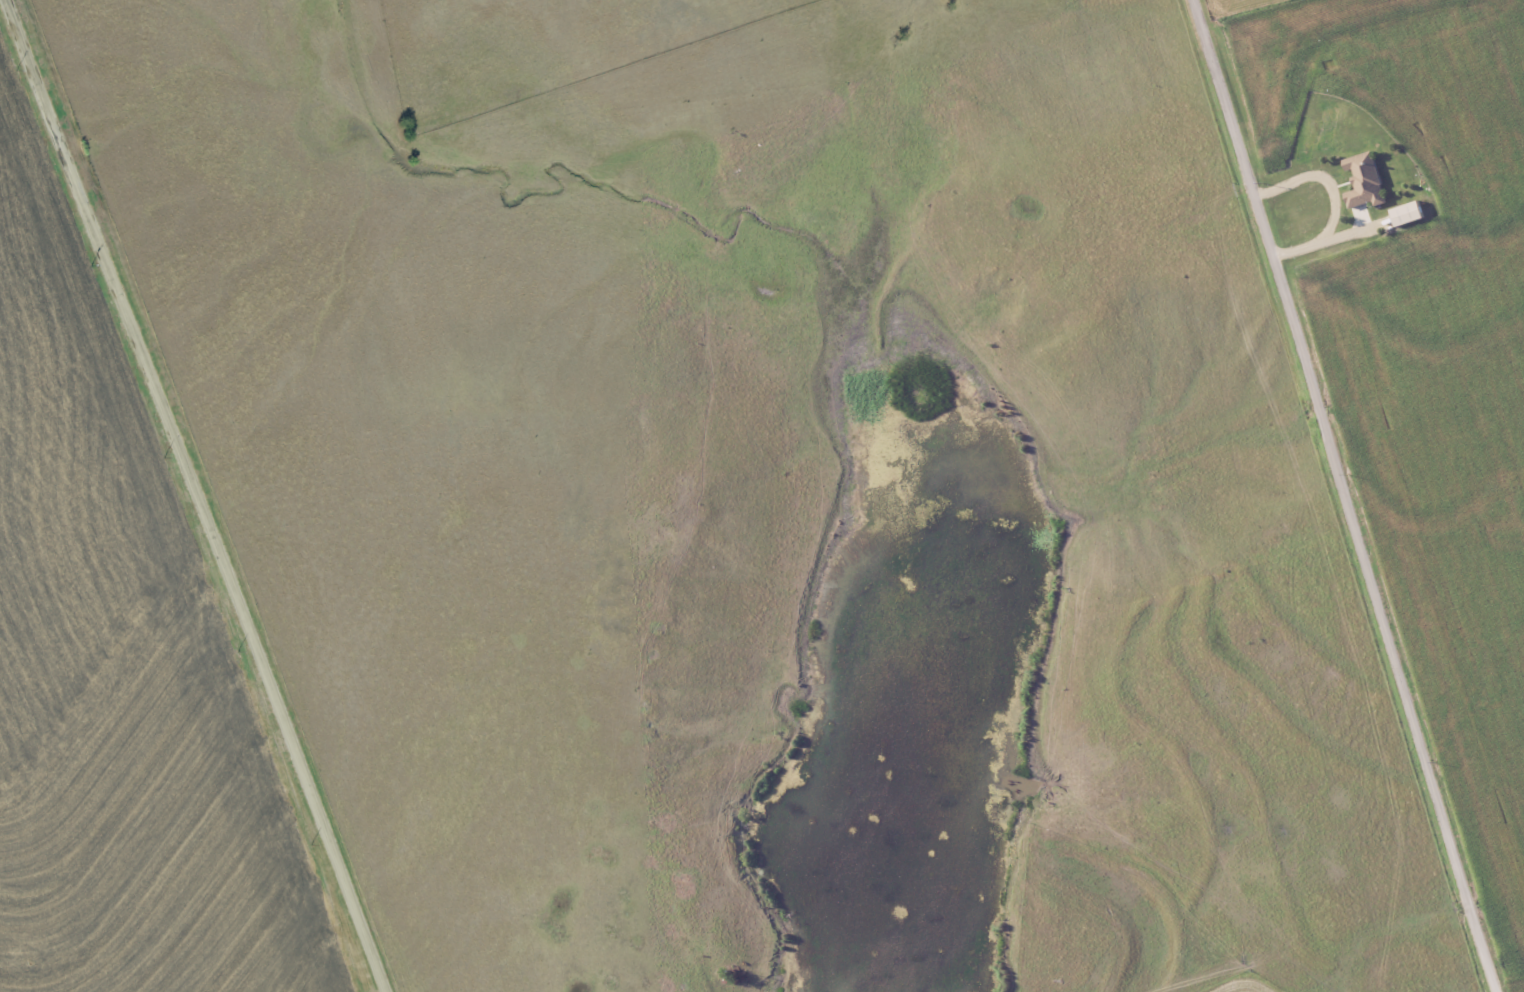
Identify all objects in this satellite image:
road: (1335, 199)
road: (1345, 495)
road: (196, 496)
dam: (1103, 975)

